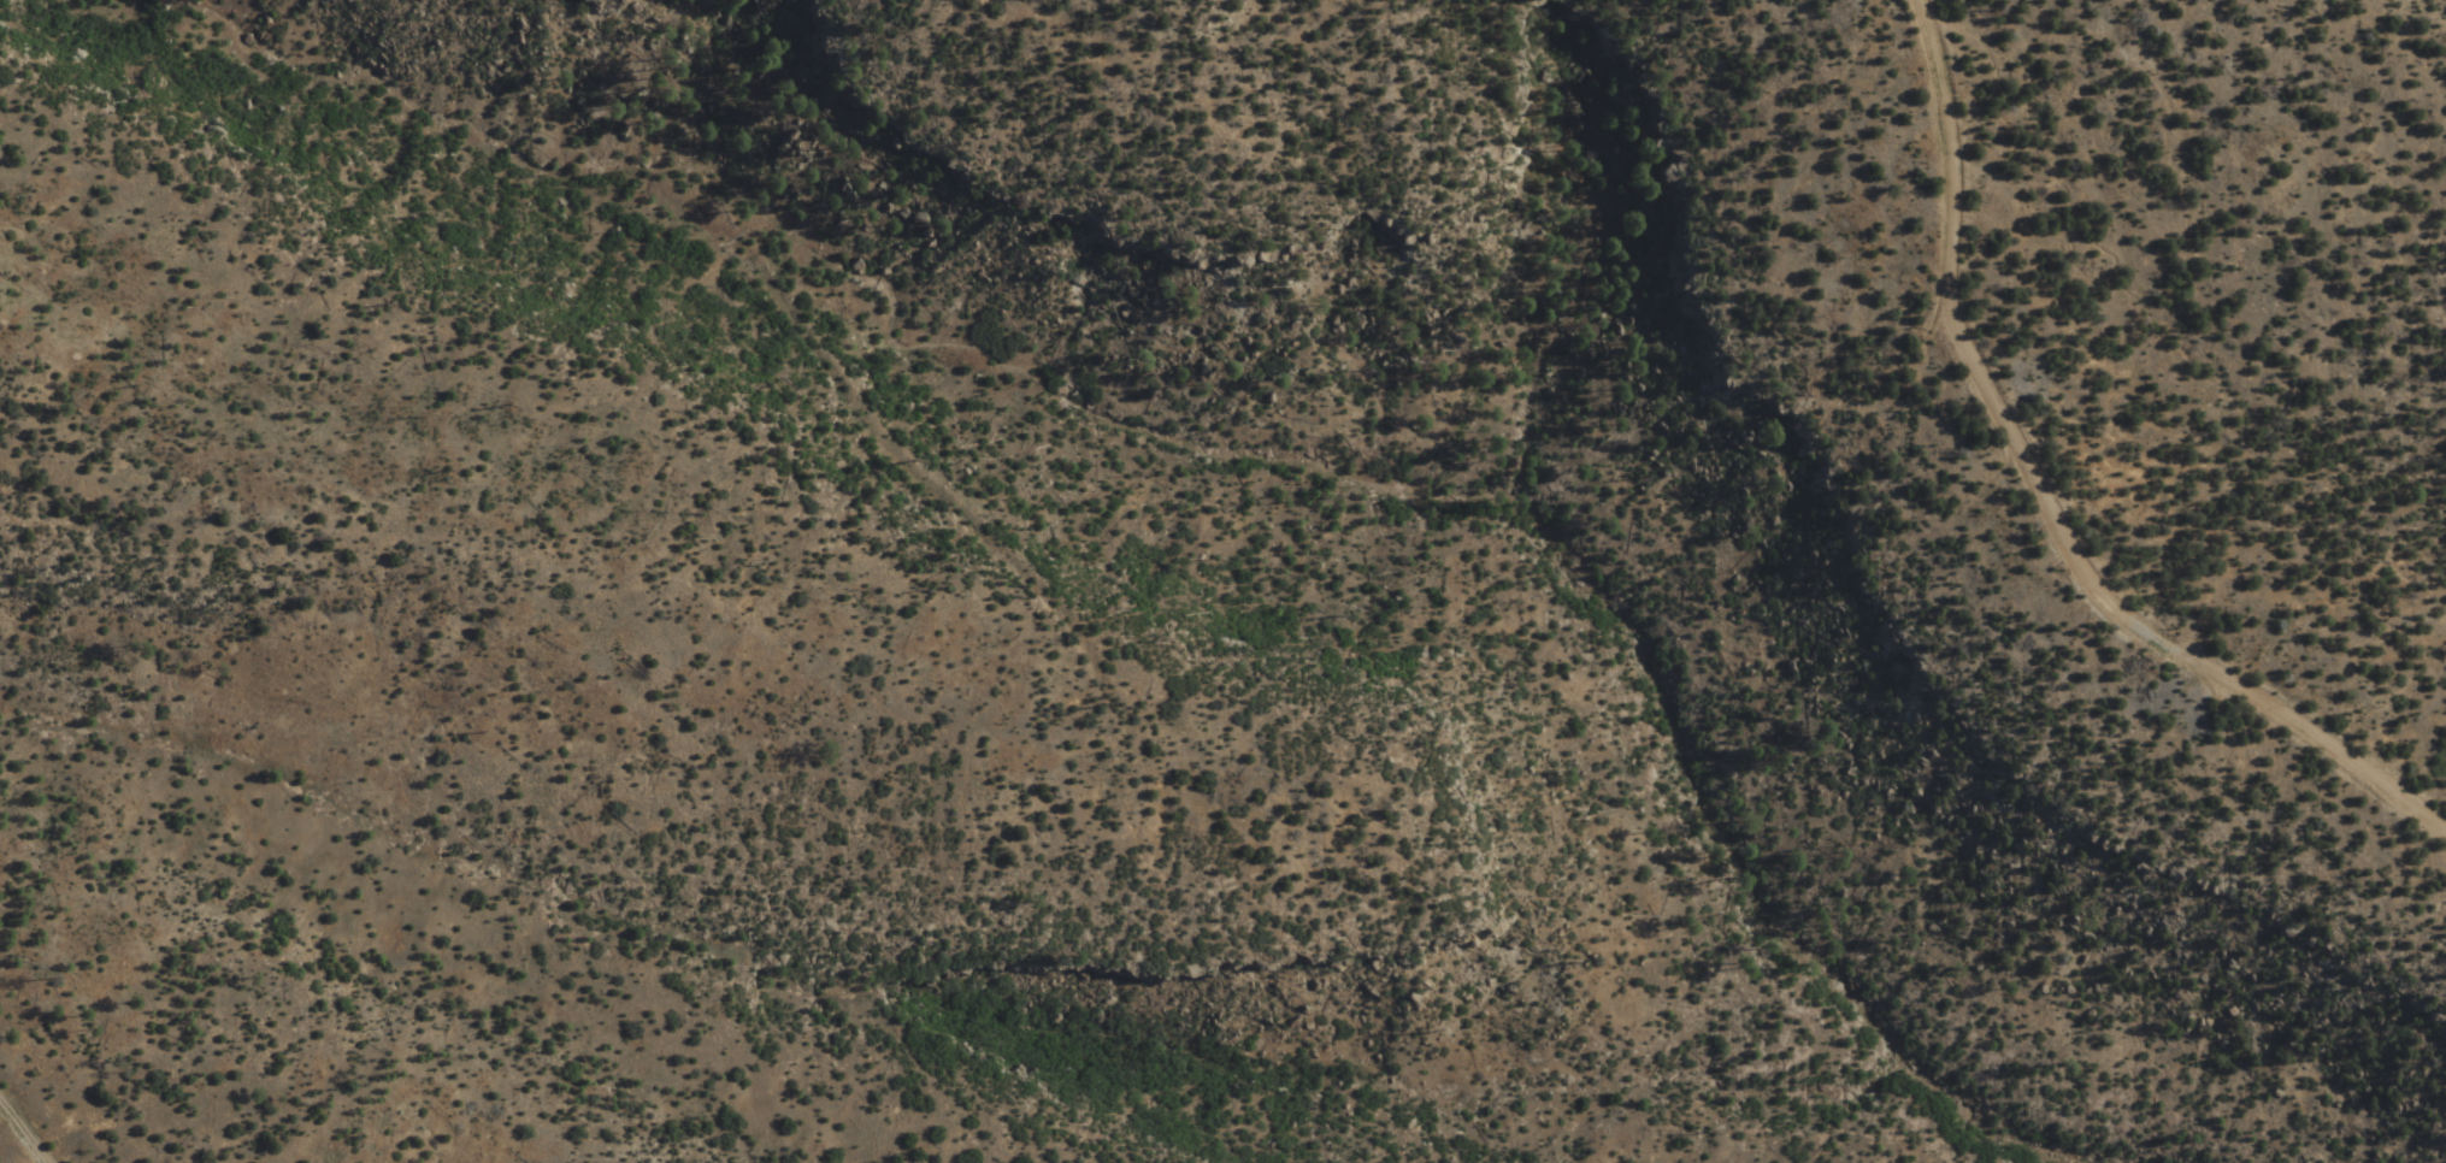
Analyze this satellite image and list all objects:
road: (2047, 496)
road: (26, 1132)

